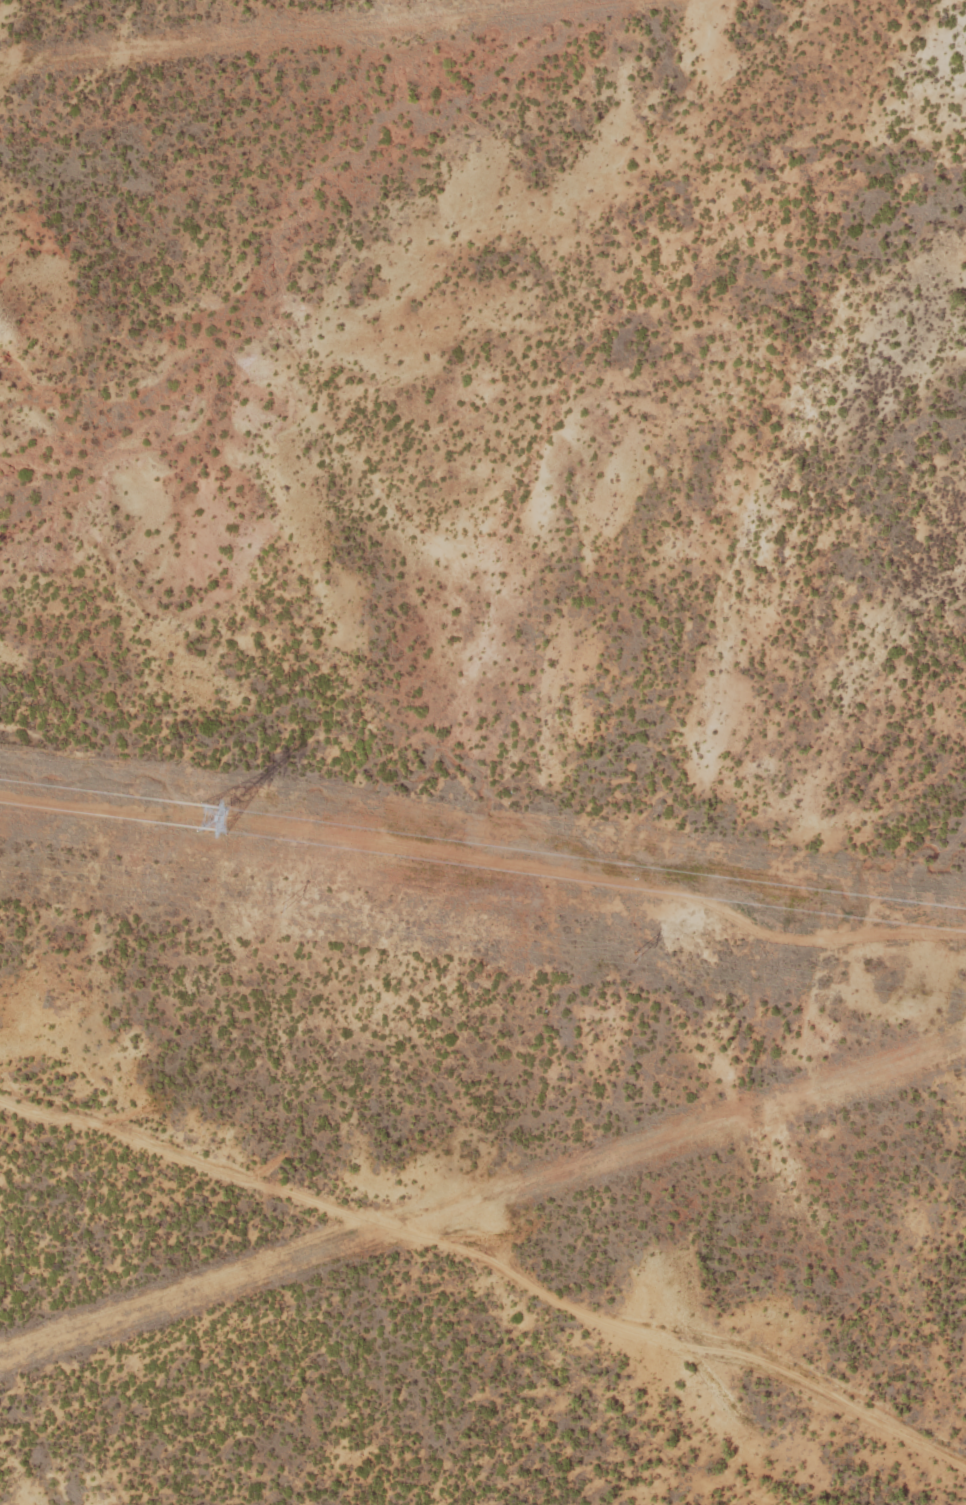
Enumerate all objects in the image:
power tower: (214, 815)
power tower: (279, 906)
power tower: (632, 953)
road: (483, 1272)

